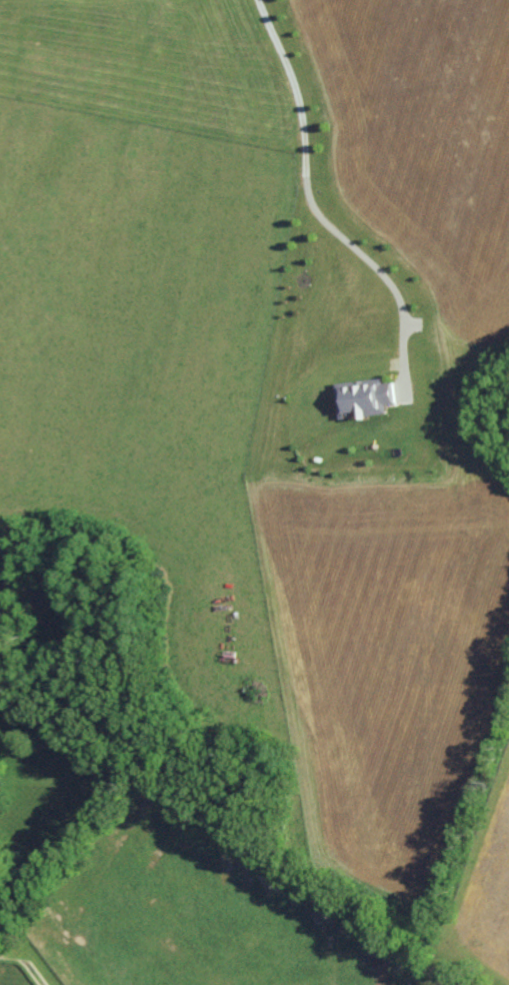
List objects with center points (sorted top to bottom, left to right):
road: (310, 206)
building: (366, 397)

